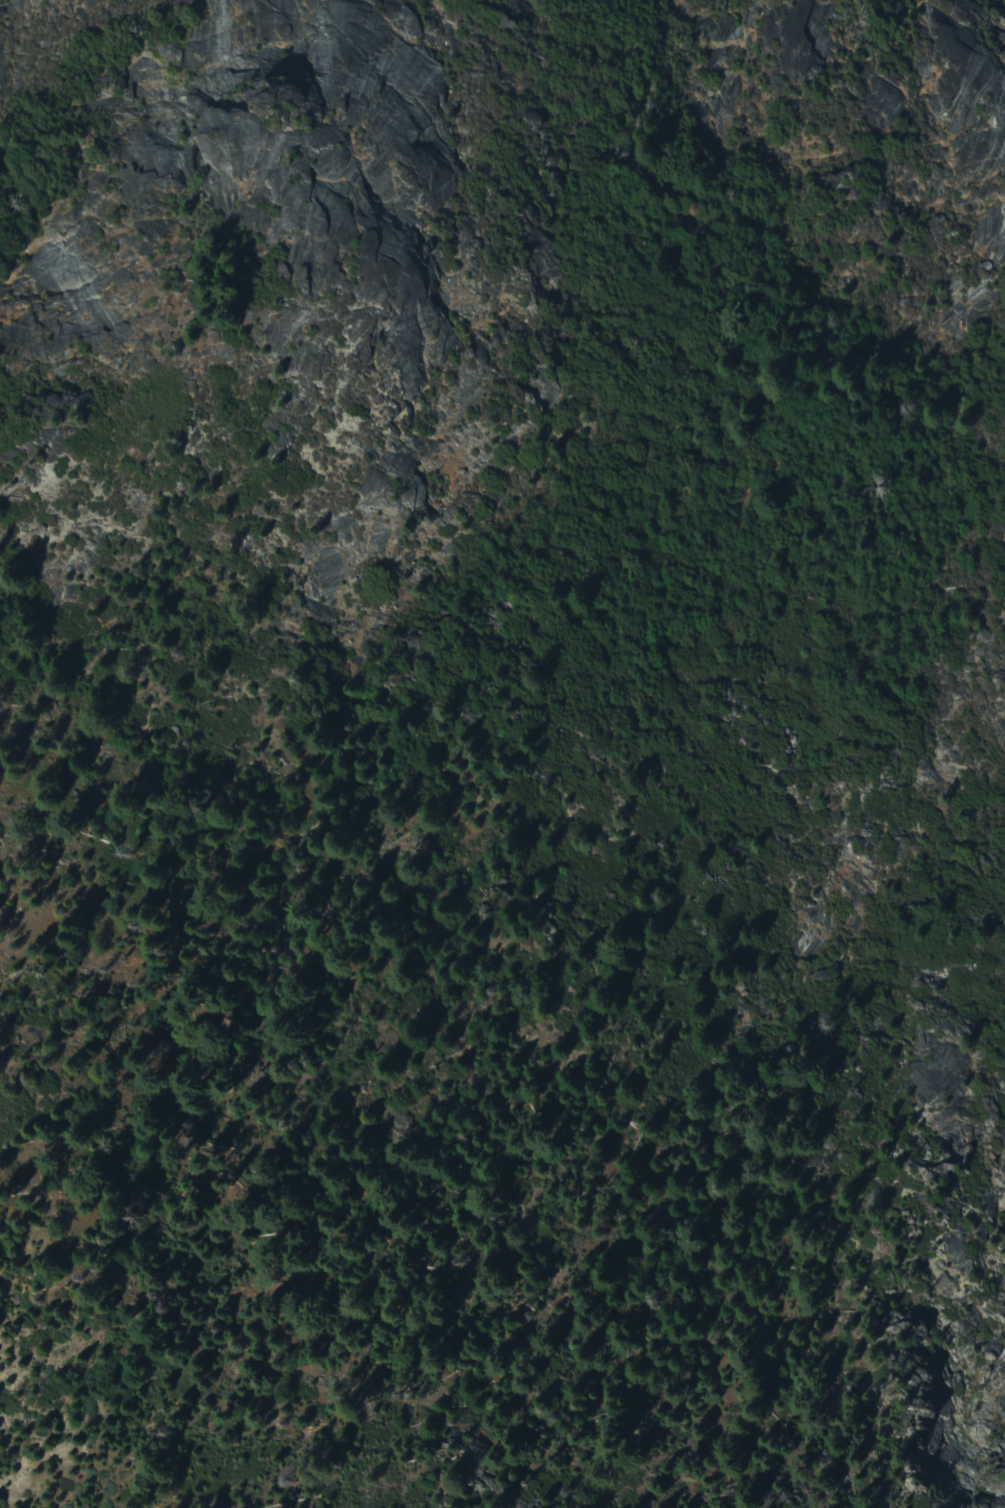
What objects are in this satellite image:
road: (60, 1302)

